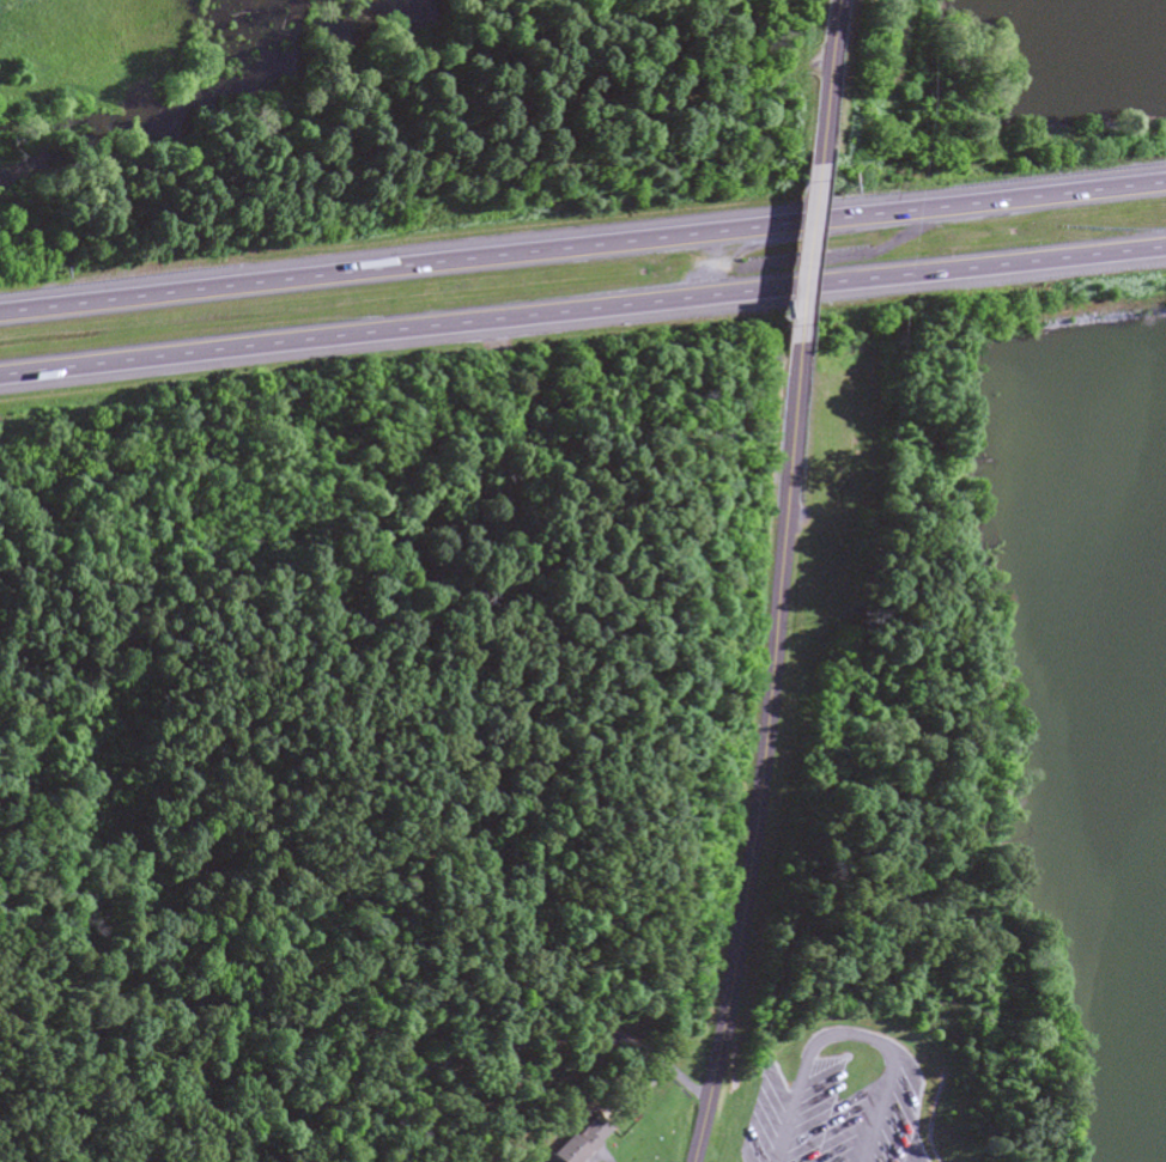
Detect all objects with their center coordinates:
road: (813, 81)
road: (582, 247)
road: (796, 255)
road: (583, 312)
road: (761, 756)
road: (900, 1036)
building: (581, 1138)

